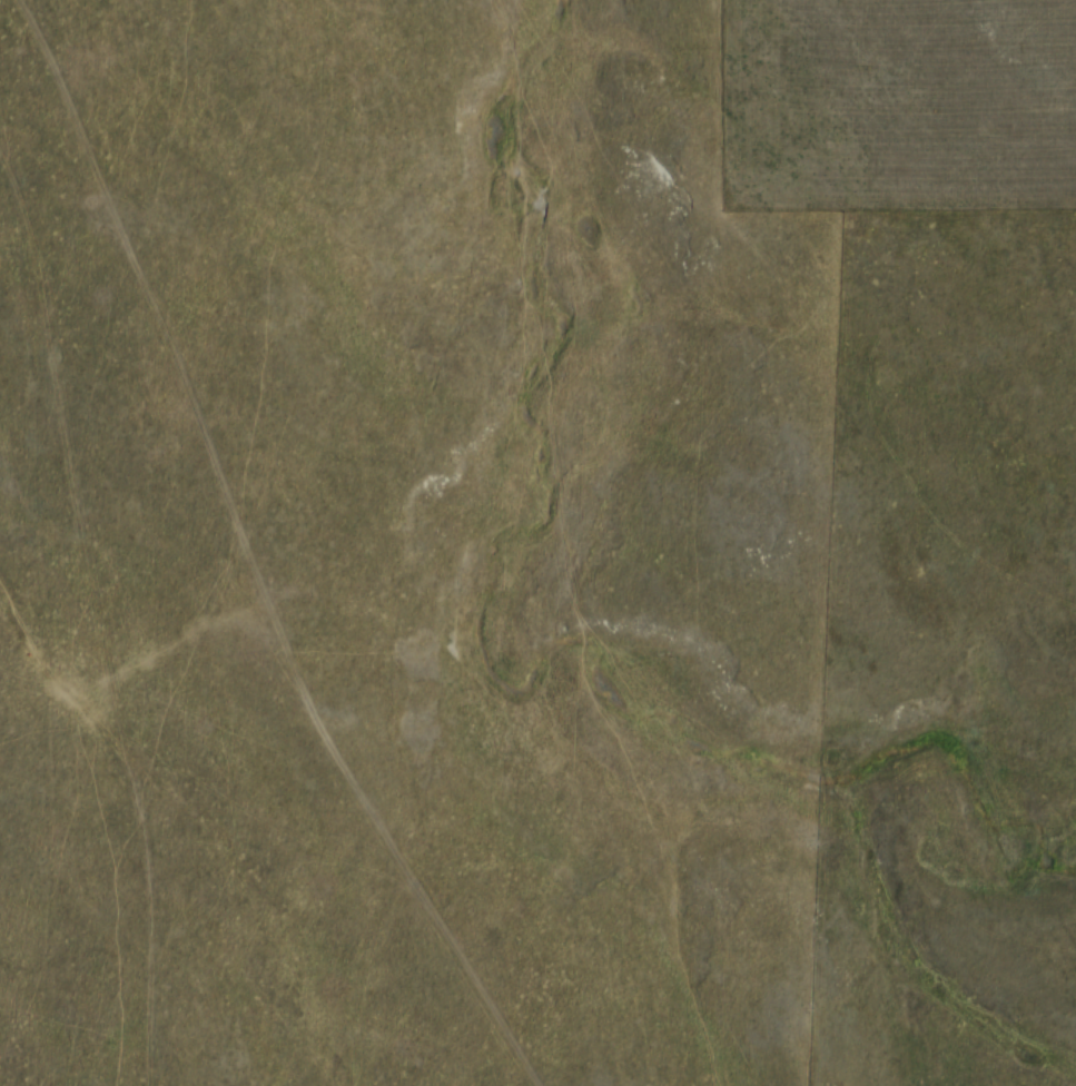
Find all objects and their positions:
road: (254, 554)
road: (52, 811)

